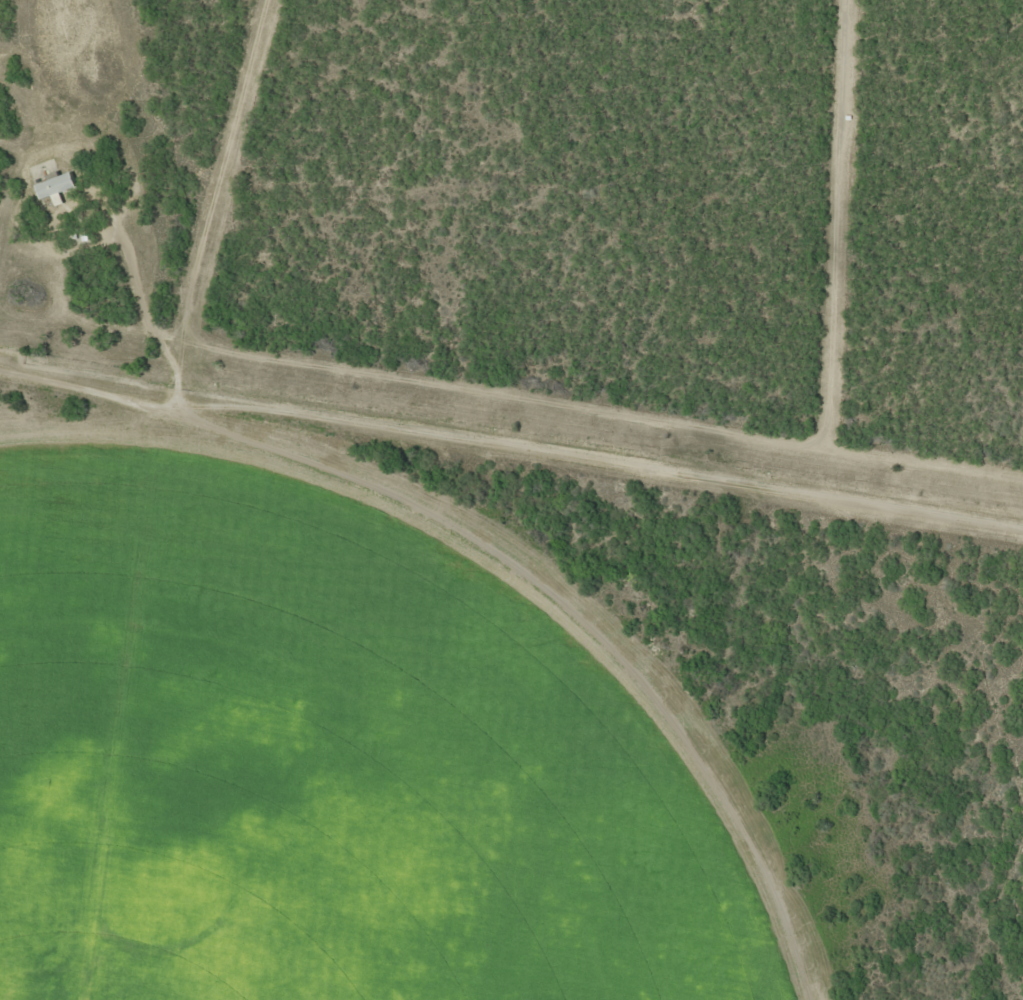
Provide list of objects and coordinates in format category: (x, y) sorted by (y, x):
building: (55, 186)
road: (146, 494)

